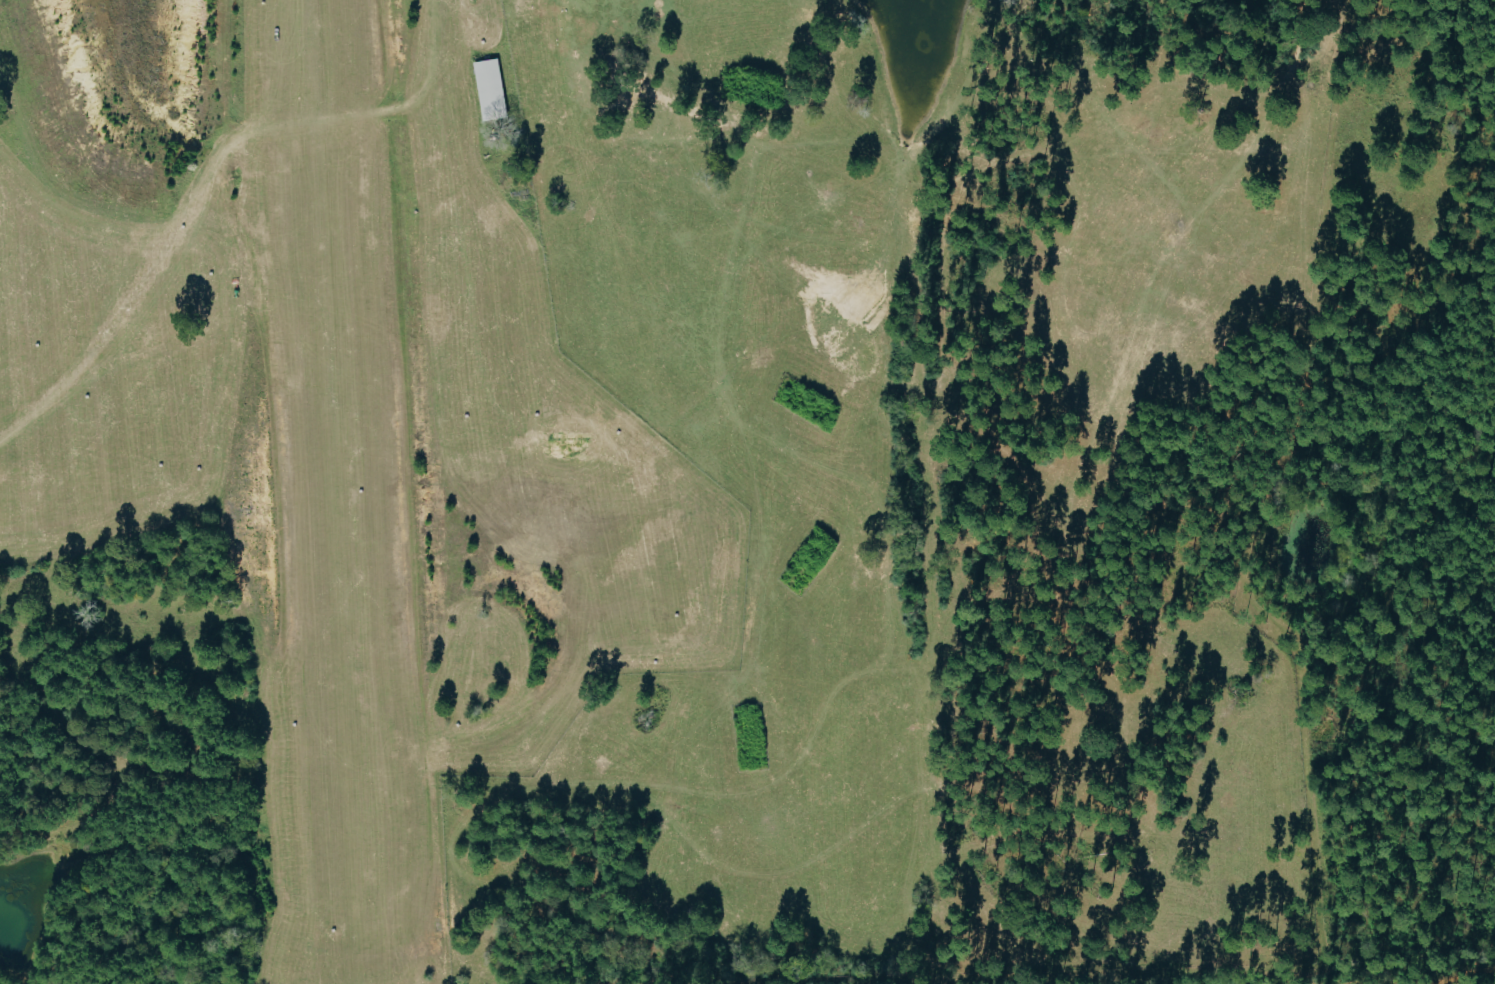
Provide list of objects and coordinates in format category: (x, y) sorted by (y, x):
building: (490, 88)
road: (180, 224)

